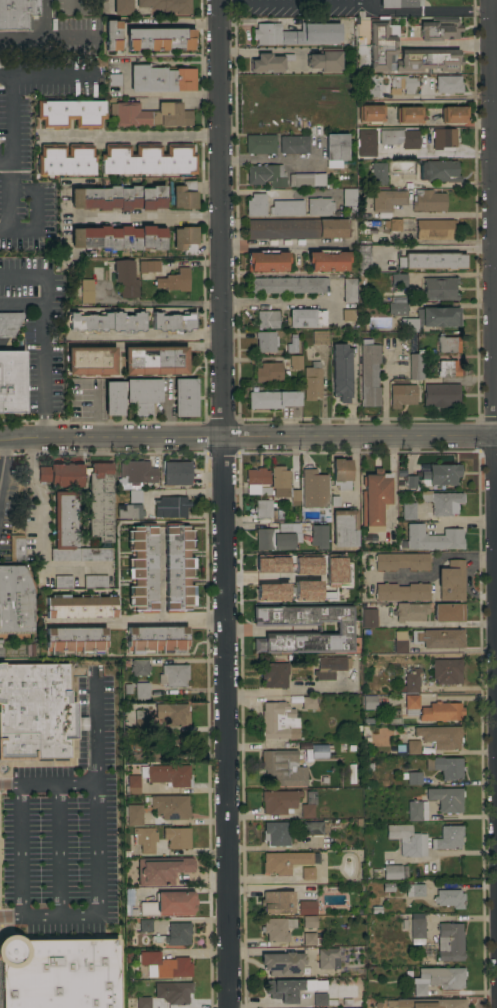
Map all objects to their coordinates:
road: (354, 2)
building: (397, 3)
building: (167, 5)
building: (122, 7)
building: (17, 13)
road: (171, 22)
building: (439, 28)
building: (296, 33)
building: (111, 34)
road: (36, 36)
building: (158, 38)
road: (452, 43)
building: (379, 44)
road: (266, 49)
building: (325, 59)
building: (427, 59)
building: (268, 62)
building: (160, 78)
road: (7, 79)
building: (113, 79)
building: (447, 83)
building: (401, 84)
building: (370, 88)
road: (156, 92)
road: (437, 95)
road: (175, 99)
road: (494, 104)
building: (70, 113)
building: (370, 113)
building: (407, 113)
building: (150, 114)
building: (453, 114)
building: (399, 137)
building: (443, 137)
road: (127, 138)
building: (366, 142)
building: (259, 143)
building: (293, 143)
building: (335, 148)
building: (148, 158)
road: (275, 158)
building: (65, 159)
building: (439, 170)
building: (377, 172)
building: (342, 173)
building: (265, 174)
building: (305, 179)
road: (441, 183)
road: (275, 191)
building: (184, 194)
building: (349, 196)
building: (117, 197)
building: (407, 199)
building: (255, 204)
building: (319, 205)
building: (285, 207)
road: (441, 213)
road: (141, 218)
building: (394, 224)
building: (296, 228)
building: (434, 228)
road: (3, 232)
road: (7, 233)
building: (118, 237)
building: (184, 238)
road: (281, 244)
building: (363, 257)
building: (432, 259)
building: (327, 260)
building: (266, 261)
building: (148, 265)
road: (494, 267)
building: (125, 278)
building: (174, 280)
building: (378, 282)
building: (286, 284)
building: (439, 288)
building: (349, 289)
building: (86, 290)
road: (275, 301)
road: (152, 302)
road: (22, 305)
building: (397, 308)
building: (347, 315)
building: (438, 315)
building: (305, 317)
building: (266, 319)
building: (9, 322)
building: (105, 322)
building: (171, 322)
building: (408, 324)
road: (43, 335)
building: (319, 336)
road: (144, 340)
building: (265, 340)
building: (291, 343)
building: (447, 343)
building: (154, 359)
building: (90, 360)
building: (294, 361)
building: (415, 366)
building: (447, 368)
building: (268, 371)
building: (340, 371)
building: (369, 372)
building: (311, 380)
building: (11, 381)
road: (384, 387)
building: (142, 393)
building: (440, 393)
building: (401, 394)
building: (184, 396)
building: (112, 397)
building: (272, 399)
road: (95, 414)
road: (491, 425)
road: (10, 437)
road: (259, 437)
road: (1, 447)
road: (353, 469)
building: (175, 472)
building: (136, 473)
building: (341, 473)
building: (440, 474)
building: (256, 475)
building: (410, 481)
building: (283, 484)
building: (313, 488)
building: (263, 492)
building: (132, 496)
building: (375, 498)
building: (442, 501)
road: (220, 504)
building: (170, 506)
building: (267, 509)
building: (408, 510)
building: (99, 511)
building: (129, 511)
road: (466, 521)
building: (344, 527)
road: (40, 529)
building: (71, 532)
building: (317, 534)
building: (433, 538)
building: (272, 539)
building: (16, 547)
building: (401, 560)
building: (270, 564)
road: (435, 564)
building: (305, 565)
building: (141, 567)
building: (177, 567)
building: (336, 570)
road: (267, 578)
building: (450, 580)
building: (62, 581)
building: (94, 581)
building: (305, 590)
building: (401, 591)
building: (270, 592)
building: (15, 599)
building: (80, 605)
building: (409, 611)
building: (448, 612)
building: (368, 617)
road: (134, 622)
road: (253, 628)
building: (344, 629)
building: (438, 637)
building: (74, 639)
building: (156, 639)
building: (399, 641)
building: (330, 666)
building: (139, 667)
building: (446, 671)
building: (273, 674)
building: (172, 675)
building: (141, 690)
building: (410, 693)
building: (368, 701)
building: (308, 702)
building: (35, 711)
building: (171, 713)
building: (139, 719)
building: (278, 720)
road: (94, 732)
building: (439, 735)
building: (412, 746)
building: (319, 750)
building: (151, 755)
building: (283, 766)
building: (445, 766)
building: (169, 774)
building: (413, 777)
building: (133, 778)
road: (47, 786)
building: (445, 798)
building: (278, 801)
building: (308, 804)
building: (170, 806)
building: (416, 810)
building: (133, 814)
building: (315, 827)
building: (275, 833)
building: (176, 837)
building: (447, 837)
building: (144, 838)
building: (407, 839)
road: (57, 851)
road: (18, 852)
road: (446, 852)
building: (283, 861)
building: (161, 869)
building: (394, 871)
building: (307, 872)
building: (413, 888)
building: (448, 897)
road: (96, 898)
building: (277, 901)
building: (168, 903)
building: (306, 906)
building: (309, 921)
building: (144, 924)
building: (276, 928)
building: (416, 930)
building: (175, 933)
building: (311, 938)
building: (449, 941)
building: (327, 957)
building: (282, 962)
building: (164, 964)
building: (57, 973)
building: (437, 978)
building: (290, 988)
building: (173, 991)
building: (323, 999)
building: (143, 1002)
building: (426, 1003)

